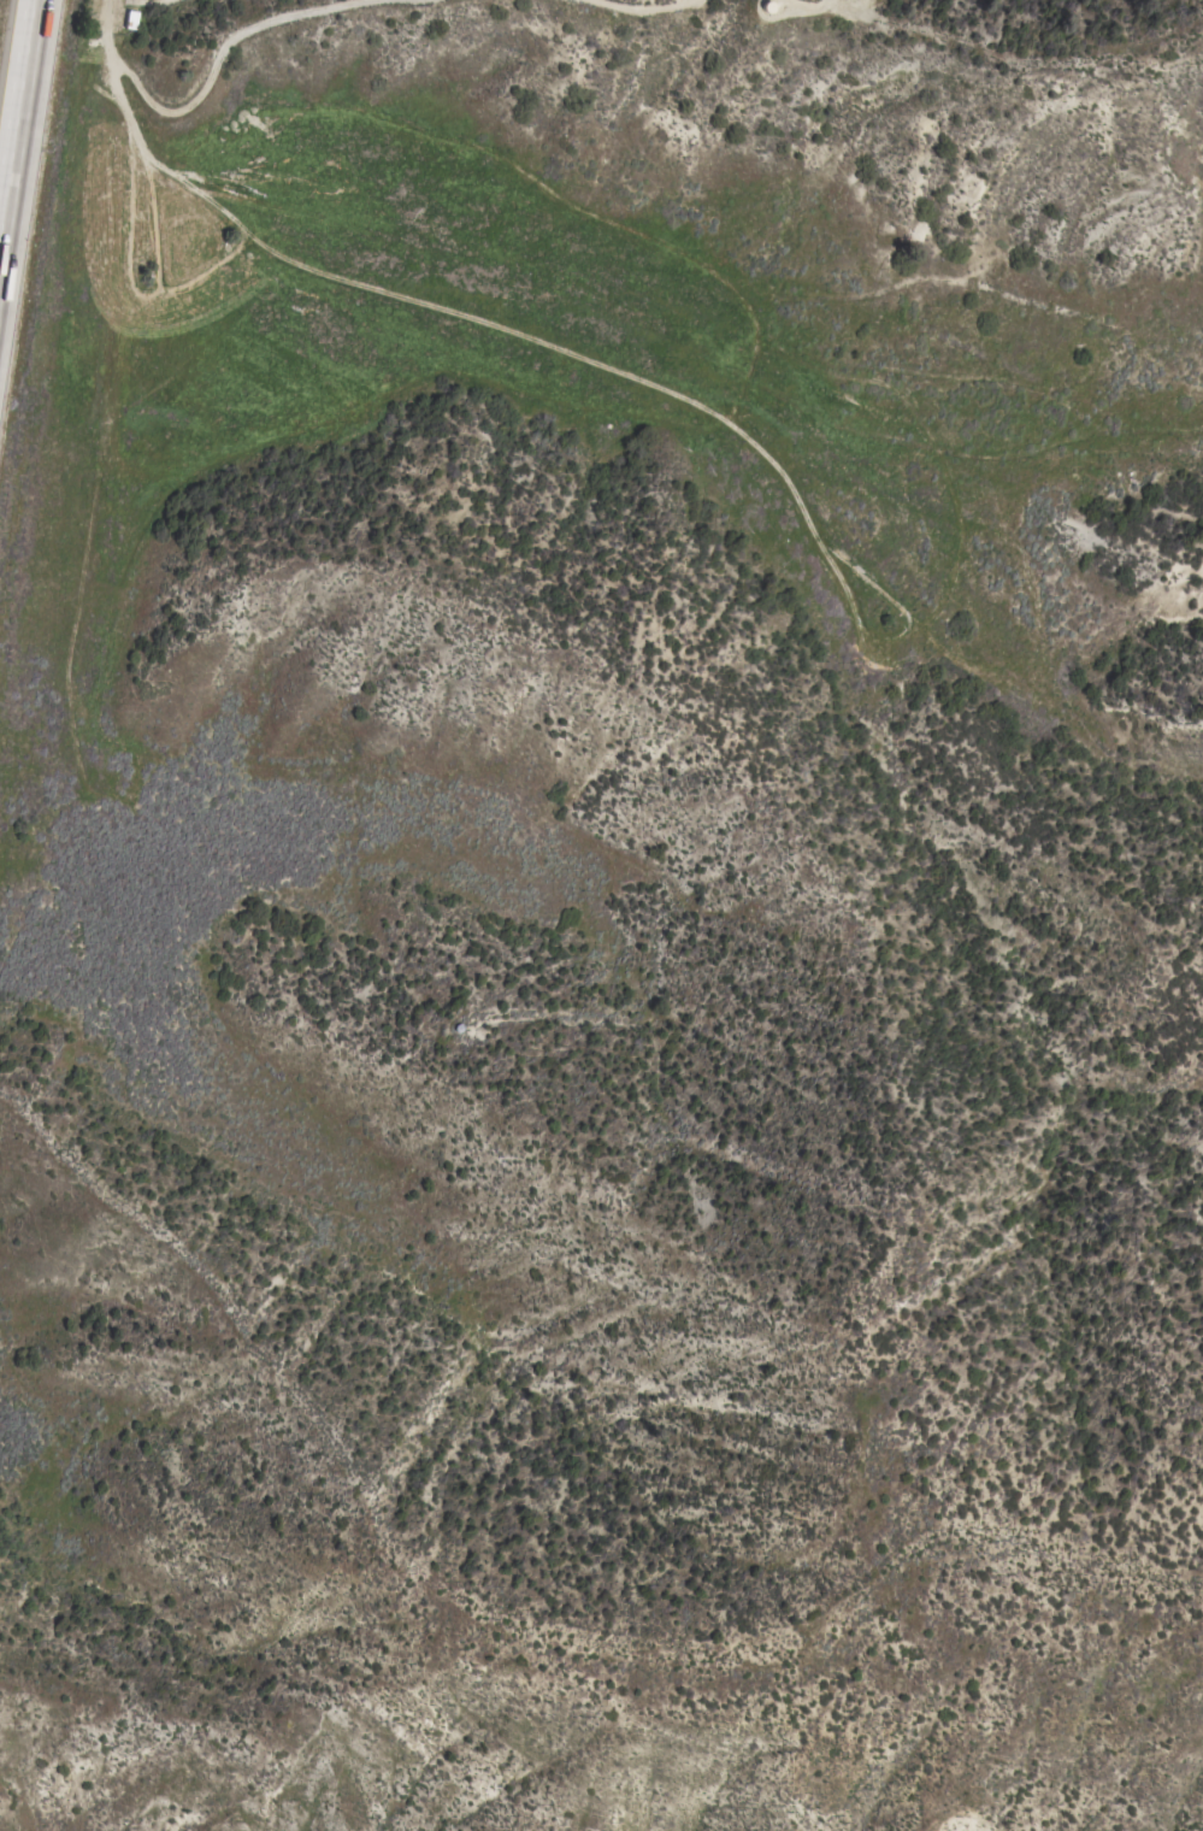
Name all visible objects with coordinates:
building: (130, 19)
road: (17, 120)

